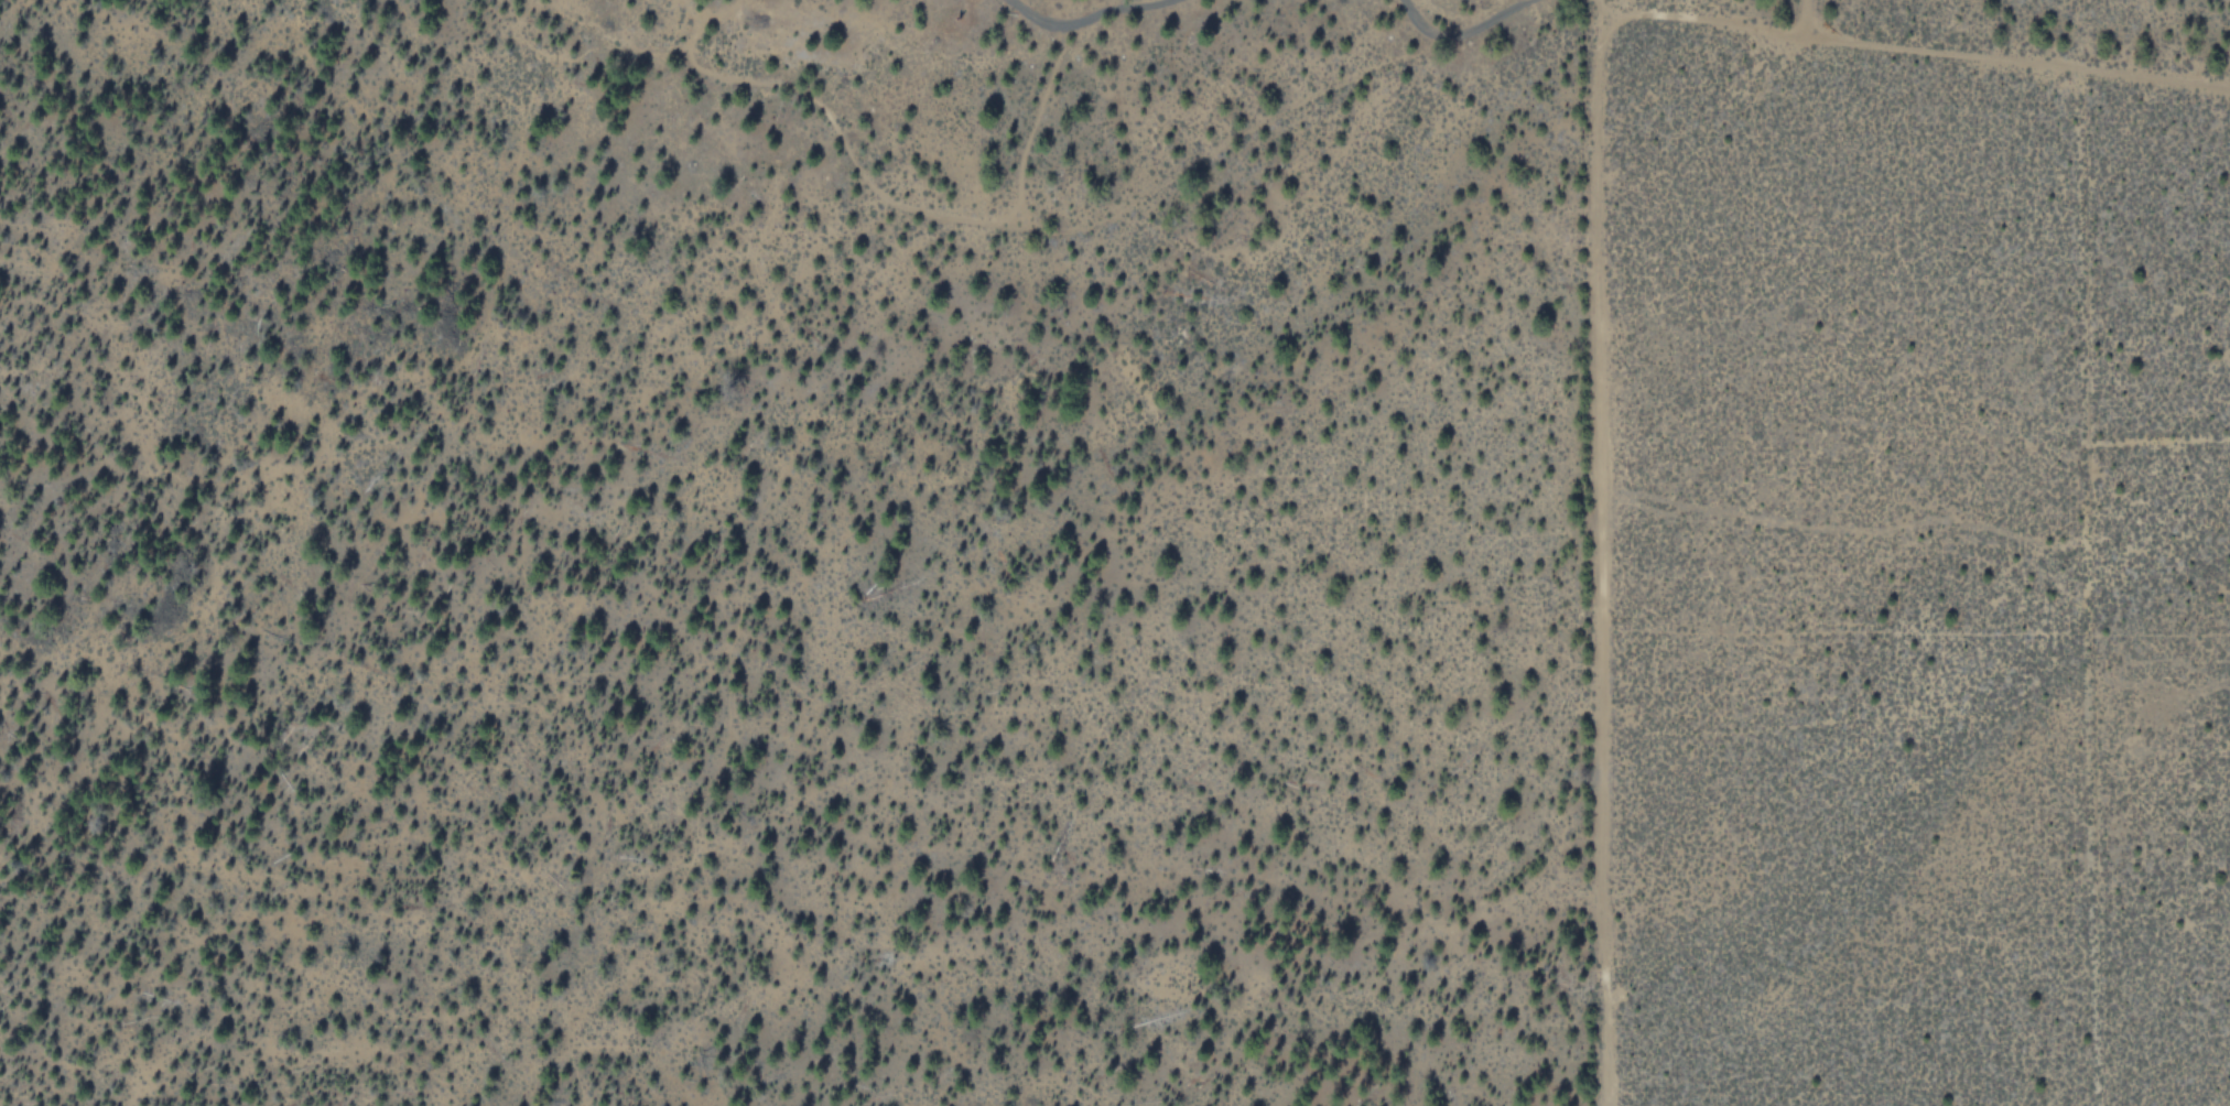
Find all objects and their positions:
road: (2227, 0)

